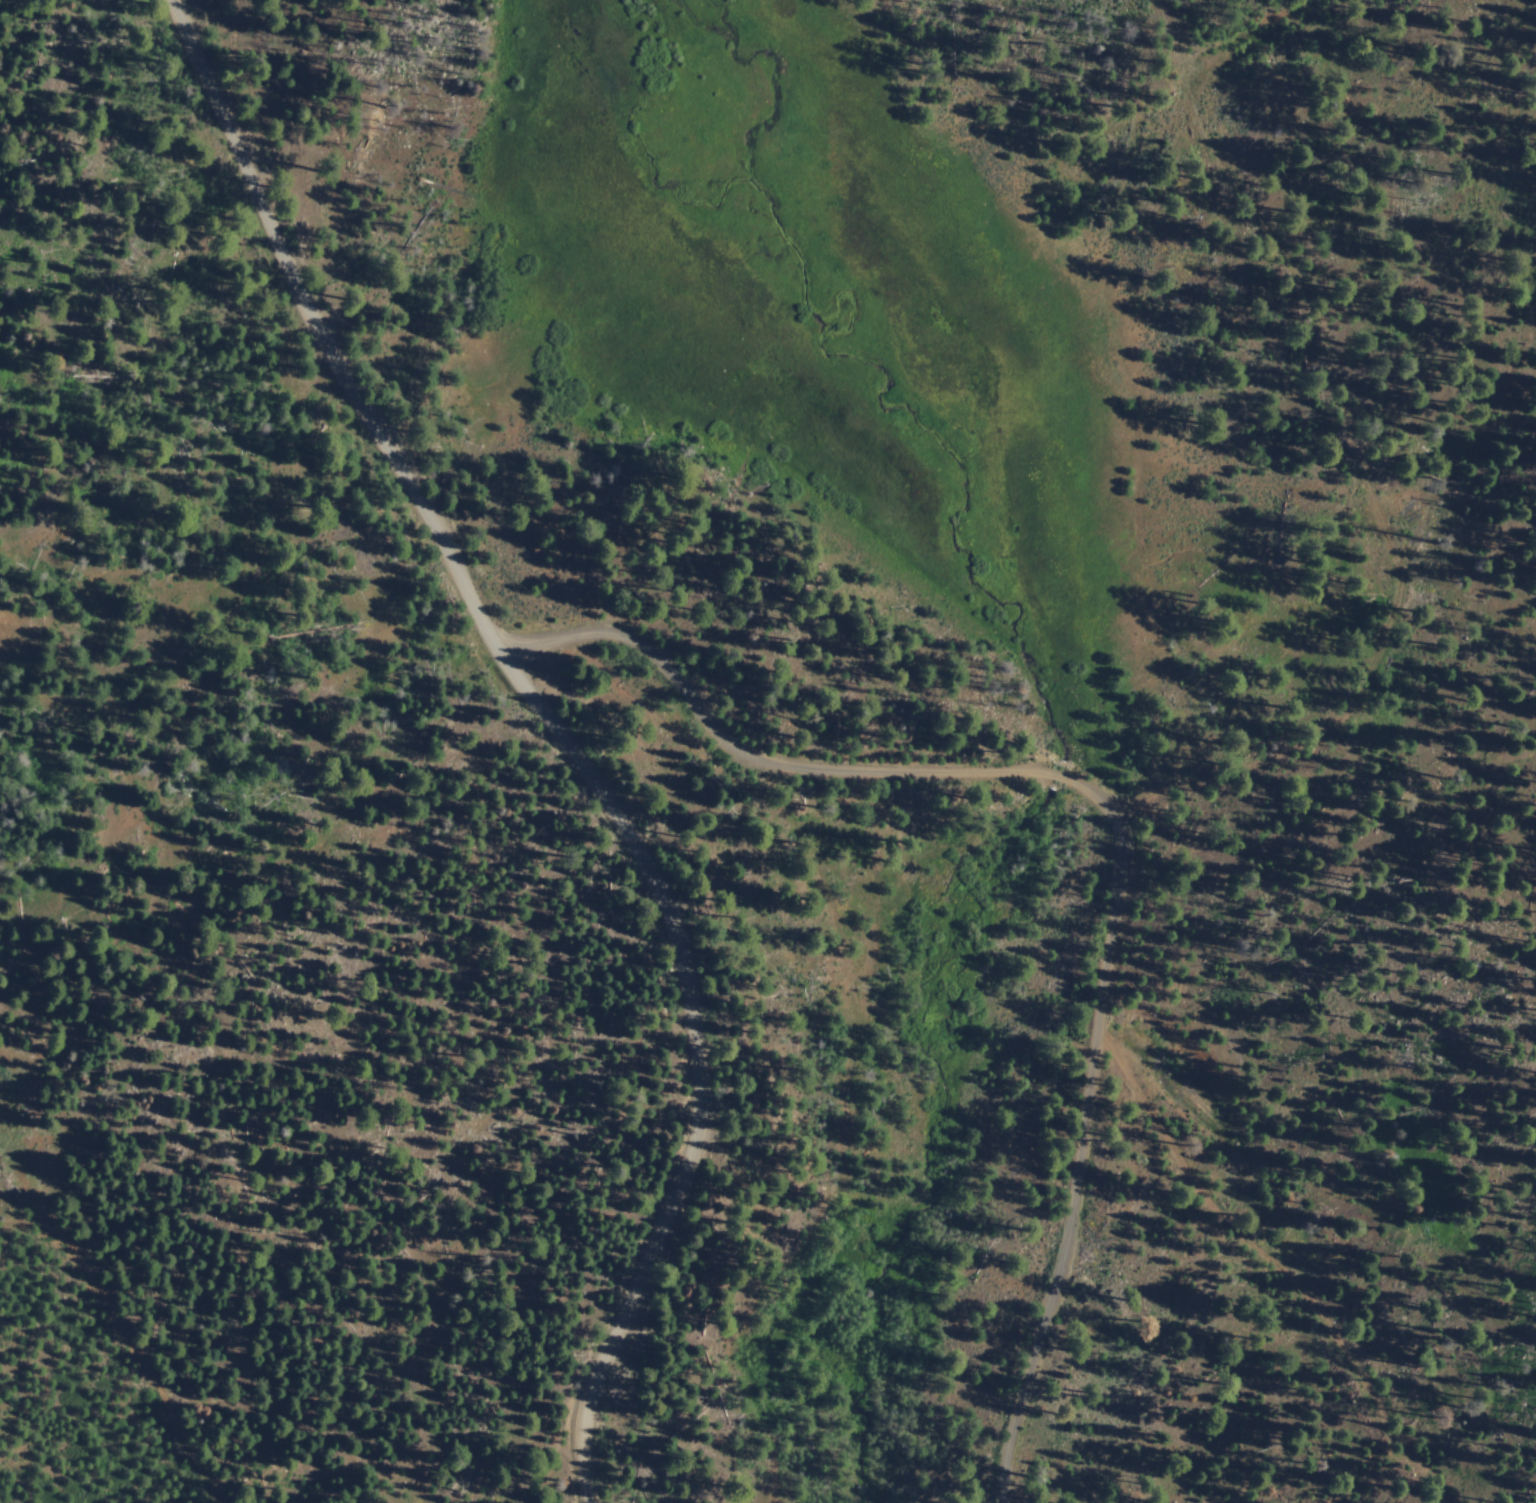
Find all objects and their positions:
road: (1228, 430)
road: (558, 729)
road: (1113, 821)
road: (1315, 915)
road: (1459, 1110)

